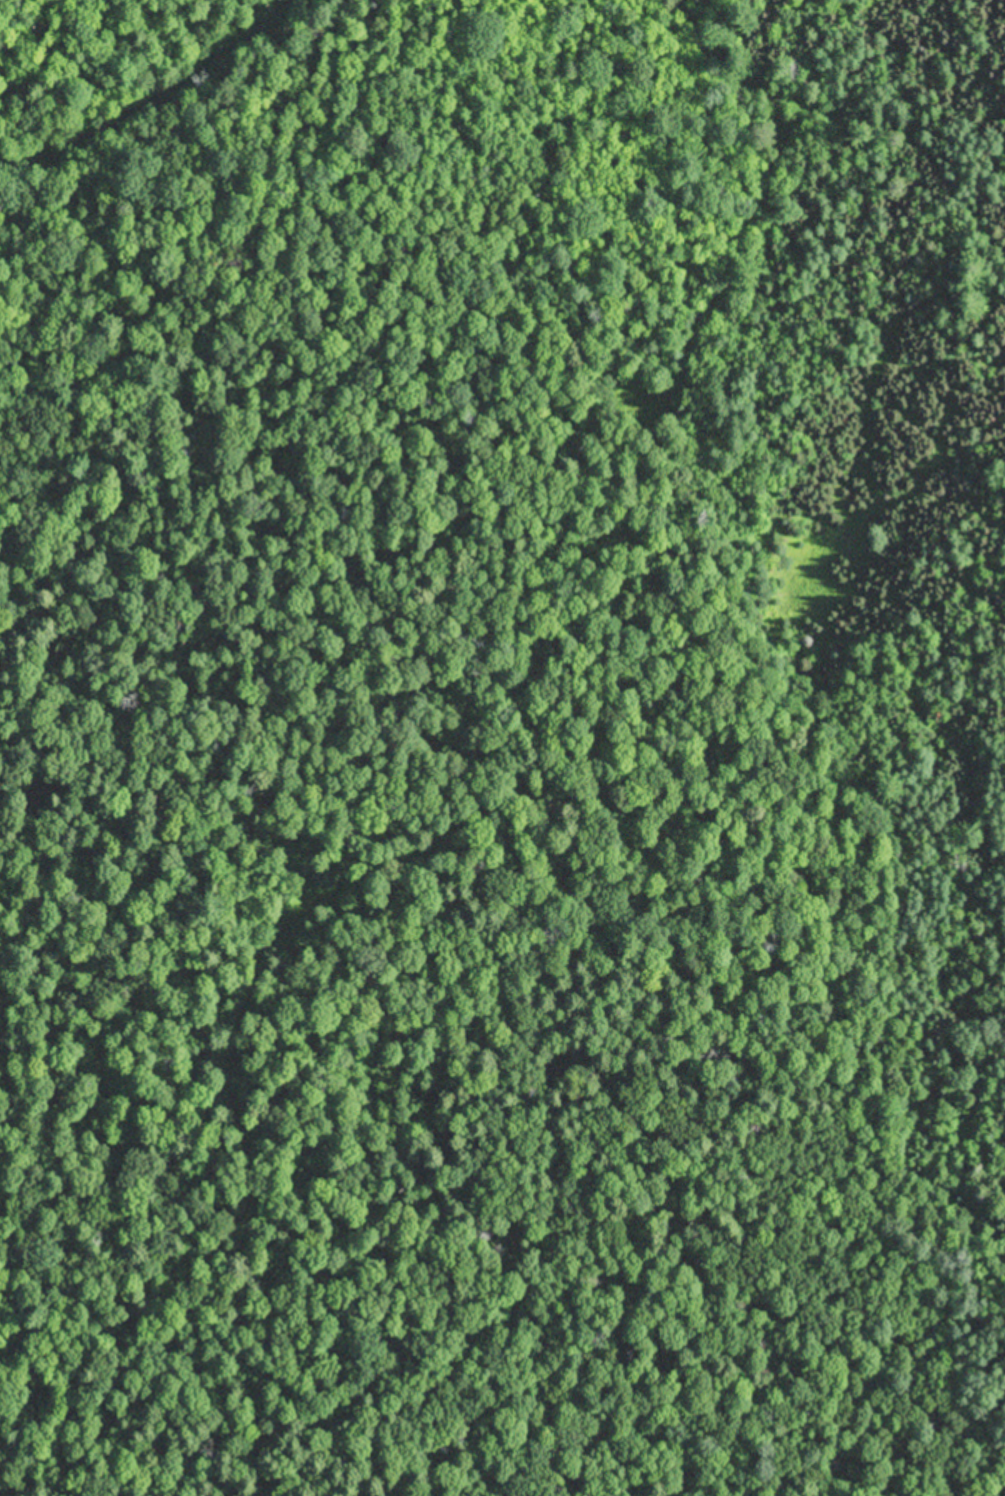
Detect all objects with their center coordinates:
road: (154, 97)

